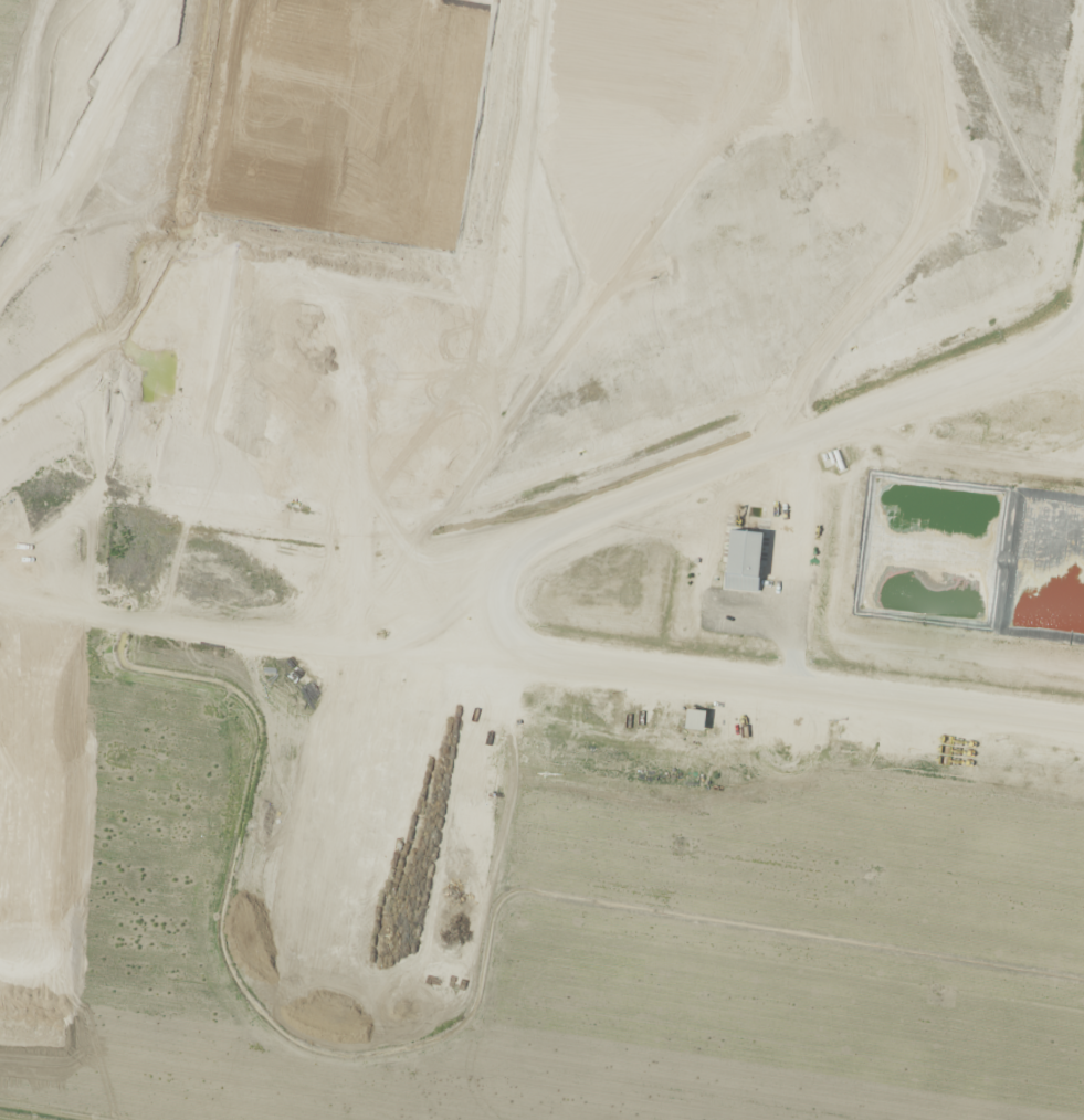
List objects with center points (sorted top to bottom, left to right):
landfill: (550, 543)
road: (798, 562)
road: (504, 580)

